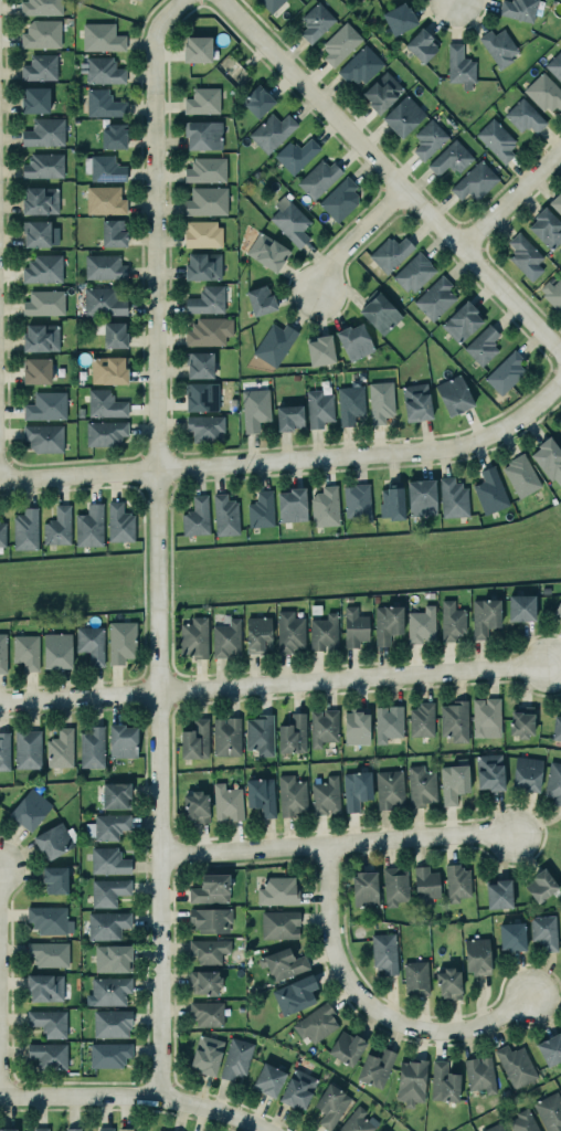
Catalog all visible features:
building: (141, 0)
building: (271, 4)
building: (41, 7)
building: (518, 9)
building: (399, 18)
building: (316, 21)
building: (42, 34)
building: (102, 36)
building: (340, 43)
building: (421, 44)
building: (498, 46)
building: (197, 49)
building: (359, 65)
building: (554, 65)
building: (459, 66)
building: (40, 67)
building: (103, 71)
building: (382, 91)
building: (543, 92)
building: (34, 99)
building: (202, 101)
building: (256, 101)
building: (103, 104)
building: (403, 116)
building: (523, 116)
building: (271, 131)
building: (44, 133)
building: (203, 134)
building: (114, 136)
building: (428, 139)
building: (496, 139)
building: (295, 155)
building: (449, 158)
building: (43, 166)
building: (104, 168)
building: (205, 169)
road: (391, 176)
building: (318, 178)
building: (474, 181)
road: (510, 197)
building: (339, 199)
building: (41, 200)
building: (104, 200)
building: (207, 201)
building: (555, 203)
building: (289, 220)
building: (547, 228)
building: (36, 232)
building: (113, 232)
building: (202, 233)
road: (356, 236)
building: (267, 252)
building: (390, 253)
building: (525, 255)
building: (104, 266)
building: (203, 266)
building: (43, 268)
building: (413, 272)
building: (552, 294)
building: (435, 298)
building: (261, 299)
building: (205, 300)
building: (103, 302)
building: (44, 303)
building: (379, 311)
building: (461, 321)
building: (209, 331)
building: (115, 335)
building: (40, 337)
building: (354, 341)
building: (274, 343)
building: (483, 345)
building: (320, 350)
building: (199, 364)
building: (36, 370)
building: (108, 370)
building: (505, 372)
building: (454, 394)
building: (202, 397)
building: (380, 401)
building: (416, 402)
building: (105, 404)
building: (349, 404)
building: (45, 405)
building: (318, 408)
building: (254, 409)
road: (548, 410)
building: (81, 412)
building: (288, 416)
park: (552, 417)
building: (205, 427)
building: (105, 432)
building: (44, 437)
building: (548, 457)
road: (290, 459)
building: (520, 475)
road: (171, 483)
road: (138, 486)
building: (489, 491)
building: (422, 497)
building: (453, 498)
building: (392, 500)
building: (357, 503)
park: (559, 503)
building: (292, 505)
building: (325, 507)
building: (261, 510)
building: (225, 515)
building: (197, 517)
building: (119, 524)
building: (57, 526)
building: (89, 526)
building: (25, 529)
building: (2, 535)
road: (157, 545)
road: (169, 578)
road: (141, 582)
building: (546, 590)
building: (522, 607)
building: (558, 609)
building: (484, 616)
building: (451, 621)
building: (388, 623)
building: (421, 625)
building: (354, 626)
building: (289, 632)
building: (324, 632)
building: (257, 634)
building: (194, 637)
building: (225, 638)
building: (121, 642)
building: (89, 644)
building: (56, 651)
building: (25, 652)
building: (2, 653)
road: (172, 673)
road: (139, 678)
road: (272, 683)
building: (486, 717)
building: (421, 719)
building: (454, 720)
building: (388, 722)
building: (521, 725)
building: (322, 727)
building: (356, 727)
building: (557, 728)
building: (260, 733)
building: (292, 734)
building: (226, 737)
building: (195, 740)
building: (121, 741)
building: (92, 748)
building: (27, 749)
building: (60, 749)
building: (4, 751)
building: (489, 772)
building: (528, 773)
building: (453, 782)
building: (553, 782)
building: (421, 786)
building: (357, 789)
building: (390, 790)
building: (115, 794)
building: (290, 794)
building: (261, 795)
building: (325, 795)
building: (227, 802)
building: (197, 805)
building: (30, 810)
building: (109, 826)
building: (53, 841)
road: (335, 846)
building: (108, 862)
building: (55, 879)
building: (457, 881)
building: (425, 882)
building: (541, 885)
building: (394, 886)
building: (211, 888)
building: (364, 888)
building: (277, 890)
building: (108, 891)
building: (498, 892)
building: (210, 919)
building: (50, 920)
building: (279, 923)
building: (107, 924)
building: (543, 932)
building: (512, 936)
building: (209, 950)
building: (384, 952)
building: (49, 953)
building: (477, 955)
building: (112, 958)
building: (283, 962)
building: (415, 977)
building: (204, 981)
building: (448, 983)
building: (44, 987)
building: (108, 991)
building: (295, 994)
road: (369, 1010)
building: (207, 1012)
building: (316, 1022)
building: (49, 1023)
building: (112, 1023)
building: (223, 1034)
building: (347, 1047)
building: (550, 1048)
building: (207, 1053)
building: (108, 1054)
building: (49, 1056)
building: (235, 1058)
building: (516, 1065)
building: (375, 1067)
building: (479, 1074)
building: (269, 1079)
building: (411, 1081)
building: (444, 1081)
building: (560, 1085)
building: (297, 1088)
road: (131, 1098)
building: (331, 1103)
building: (549, 1111)
building: (357, 1121)
building: (522, 1121)
building: (495, 1128)
building: (8, 1129)
building: (40, 1129)
building: (72, 1129)
building: (105, 1129)
building: (125, 1129)
building: (157, 1130)
building: (159, 1130)

